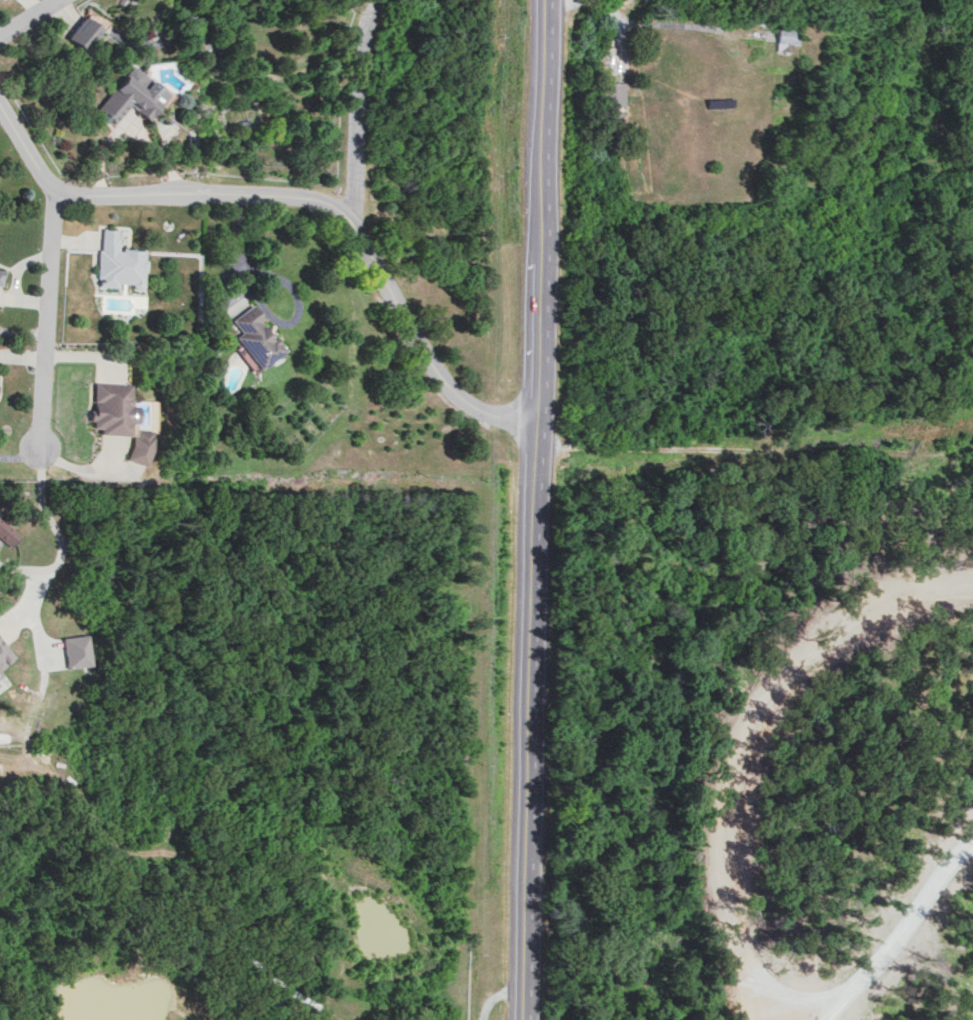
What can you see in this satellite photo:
road: (28, 17)
building: (84, 29)
building: (785, 38)
building: (615, 93)
building: (130, 96)
road: (200, 195)
road: (362, 253)
road: (234, 255)
building: (117, 261)
building: (0, 271)
road: (45, 272)
building: (254, 337)
building: (109, 407)
road: (791, 443)
building: (137, 445)
road: (536, 510)
building: (6, 532)
building: (74, 649)
building: (3, 654)
building: (0, 675)
road: (757, 736)
road: (893, 943)

